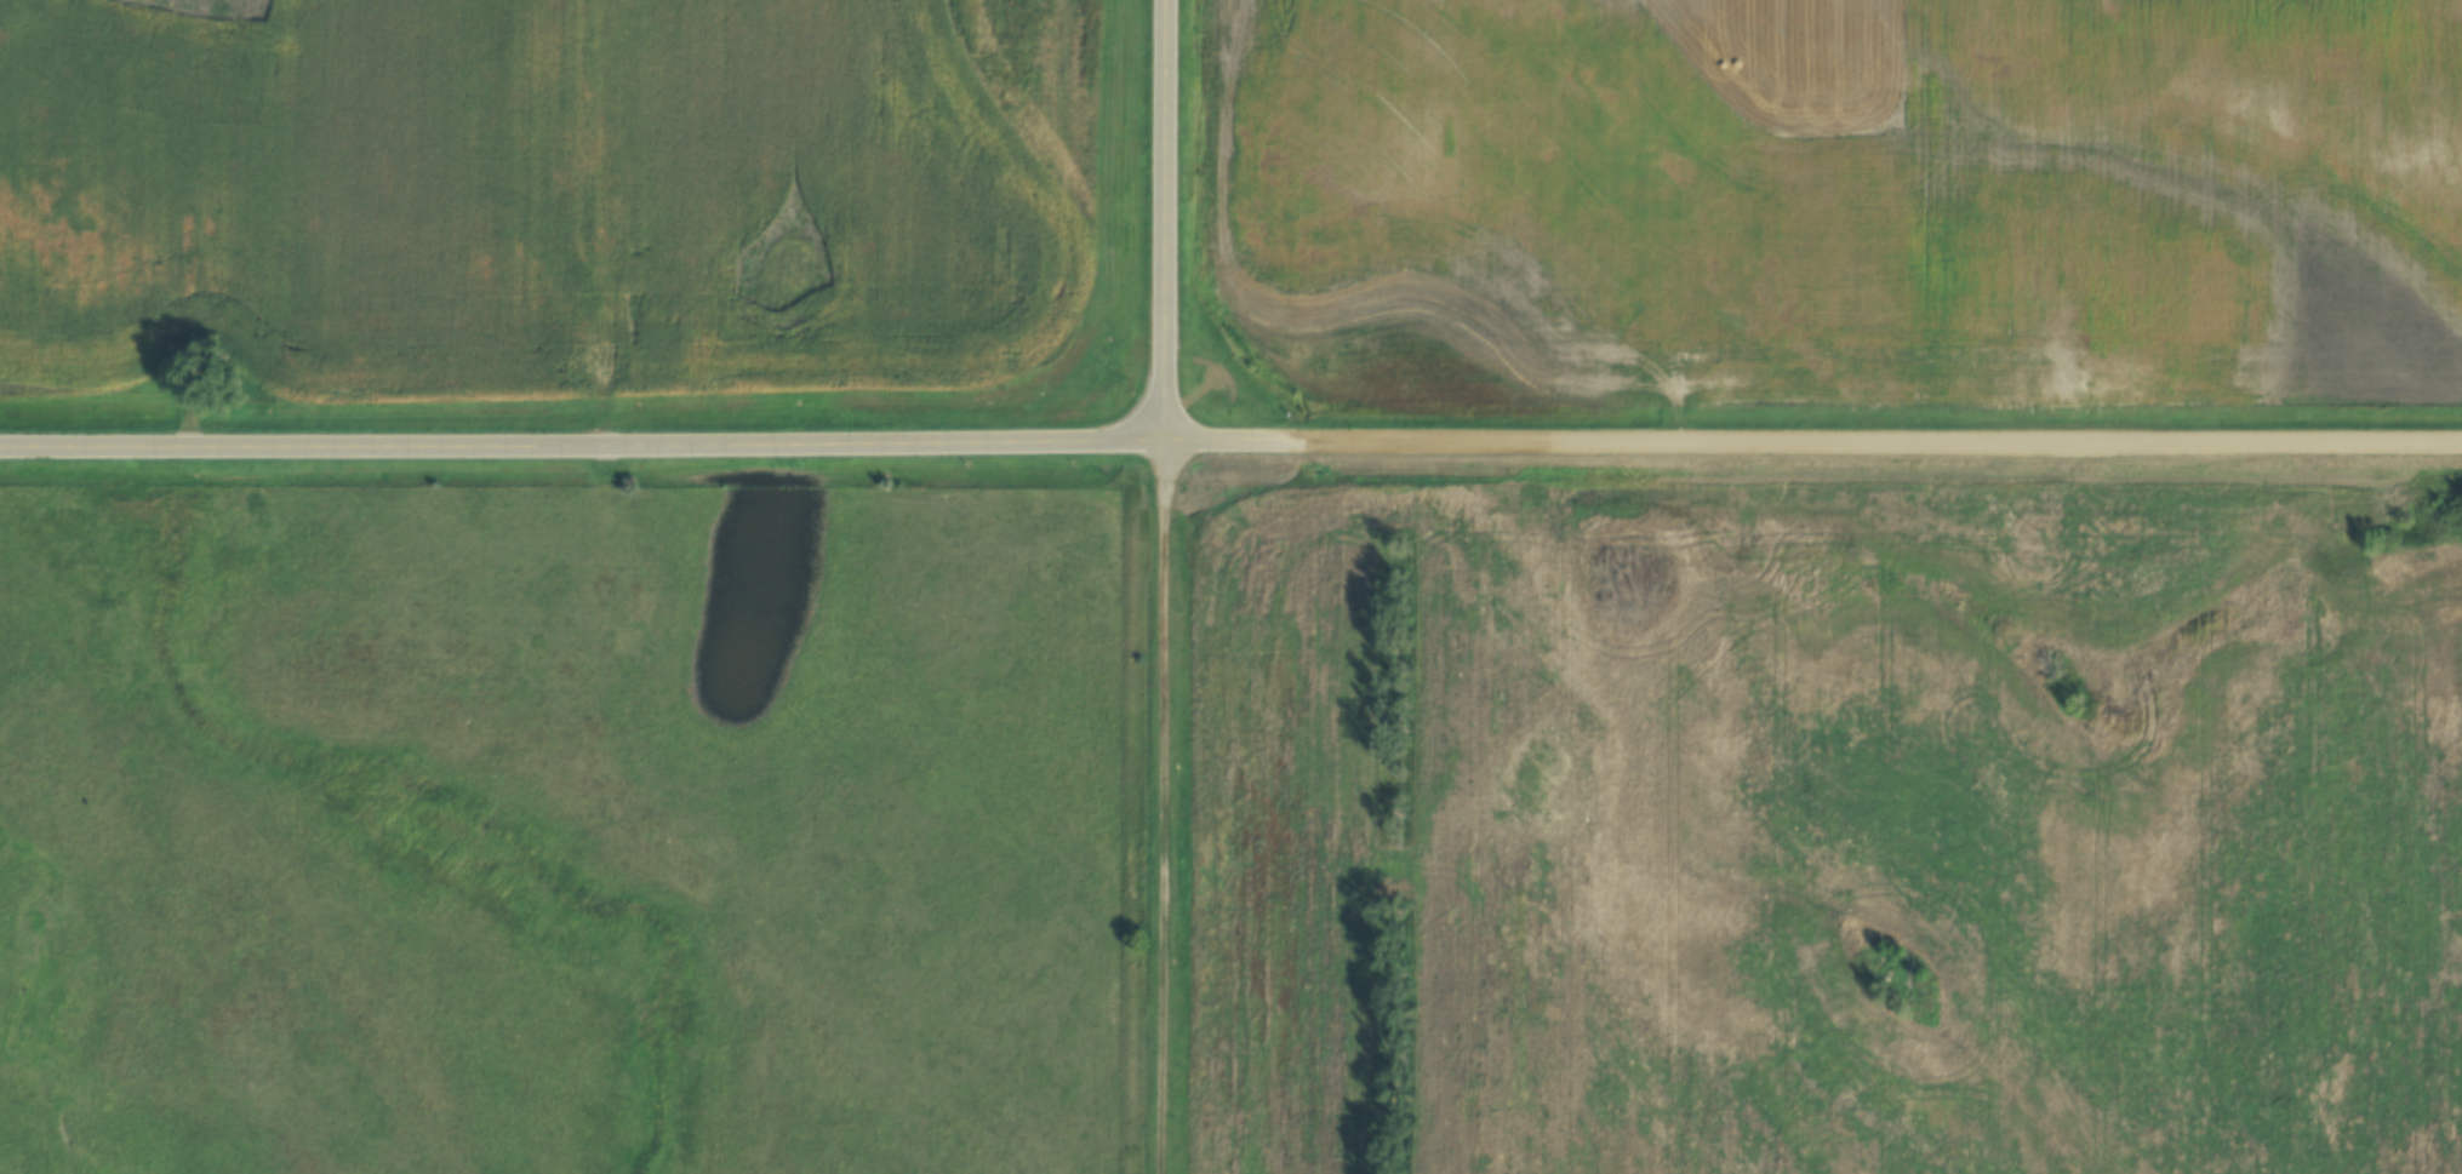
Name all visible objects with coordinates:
road: (1175, 221)
road: (1820, 446)
road: (589, 449)
road: (1177, 807)

